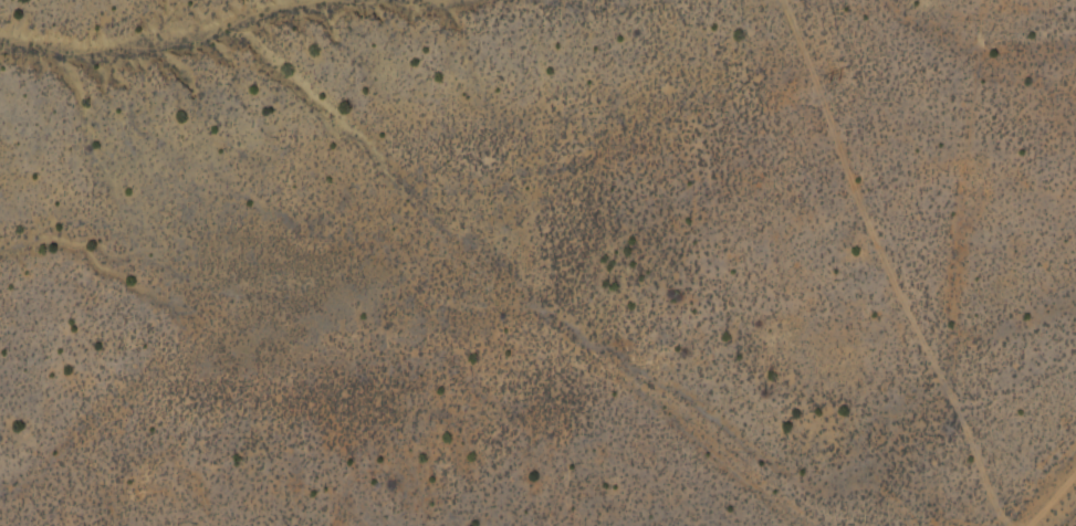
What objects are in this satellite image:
power tower: (830, 82)
road: (1041, 486)

